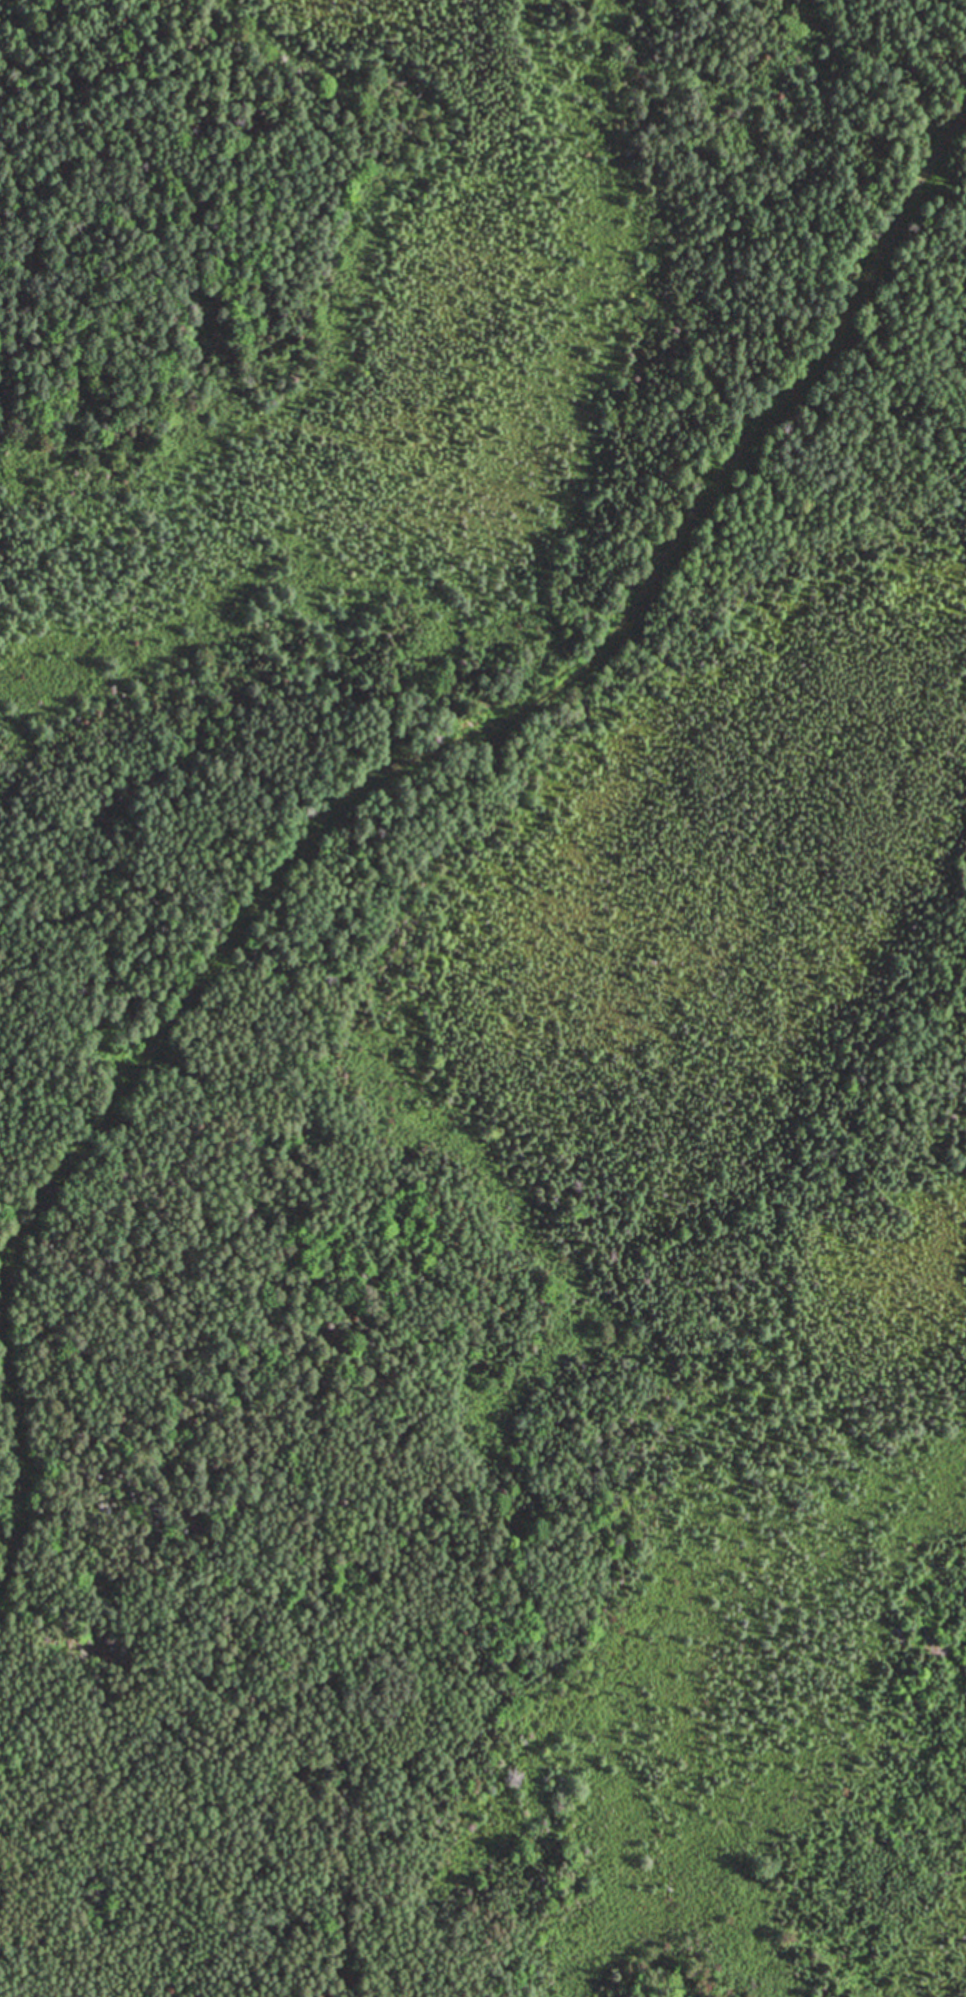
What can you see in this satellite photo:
road: (505, 718)
road: (9, 1442)

